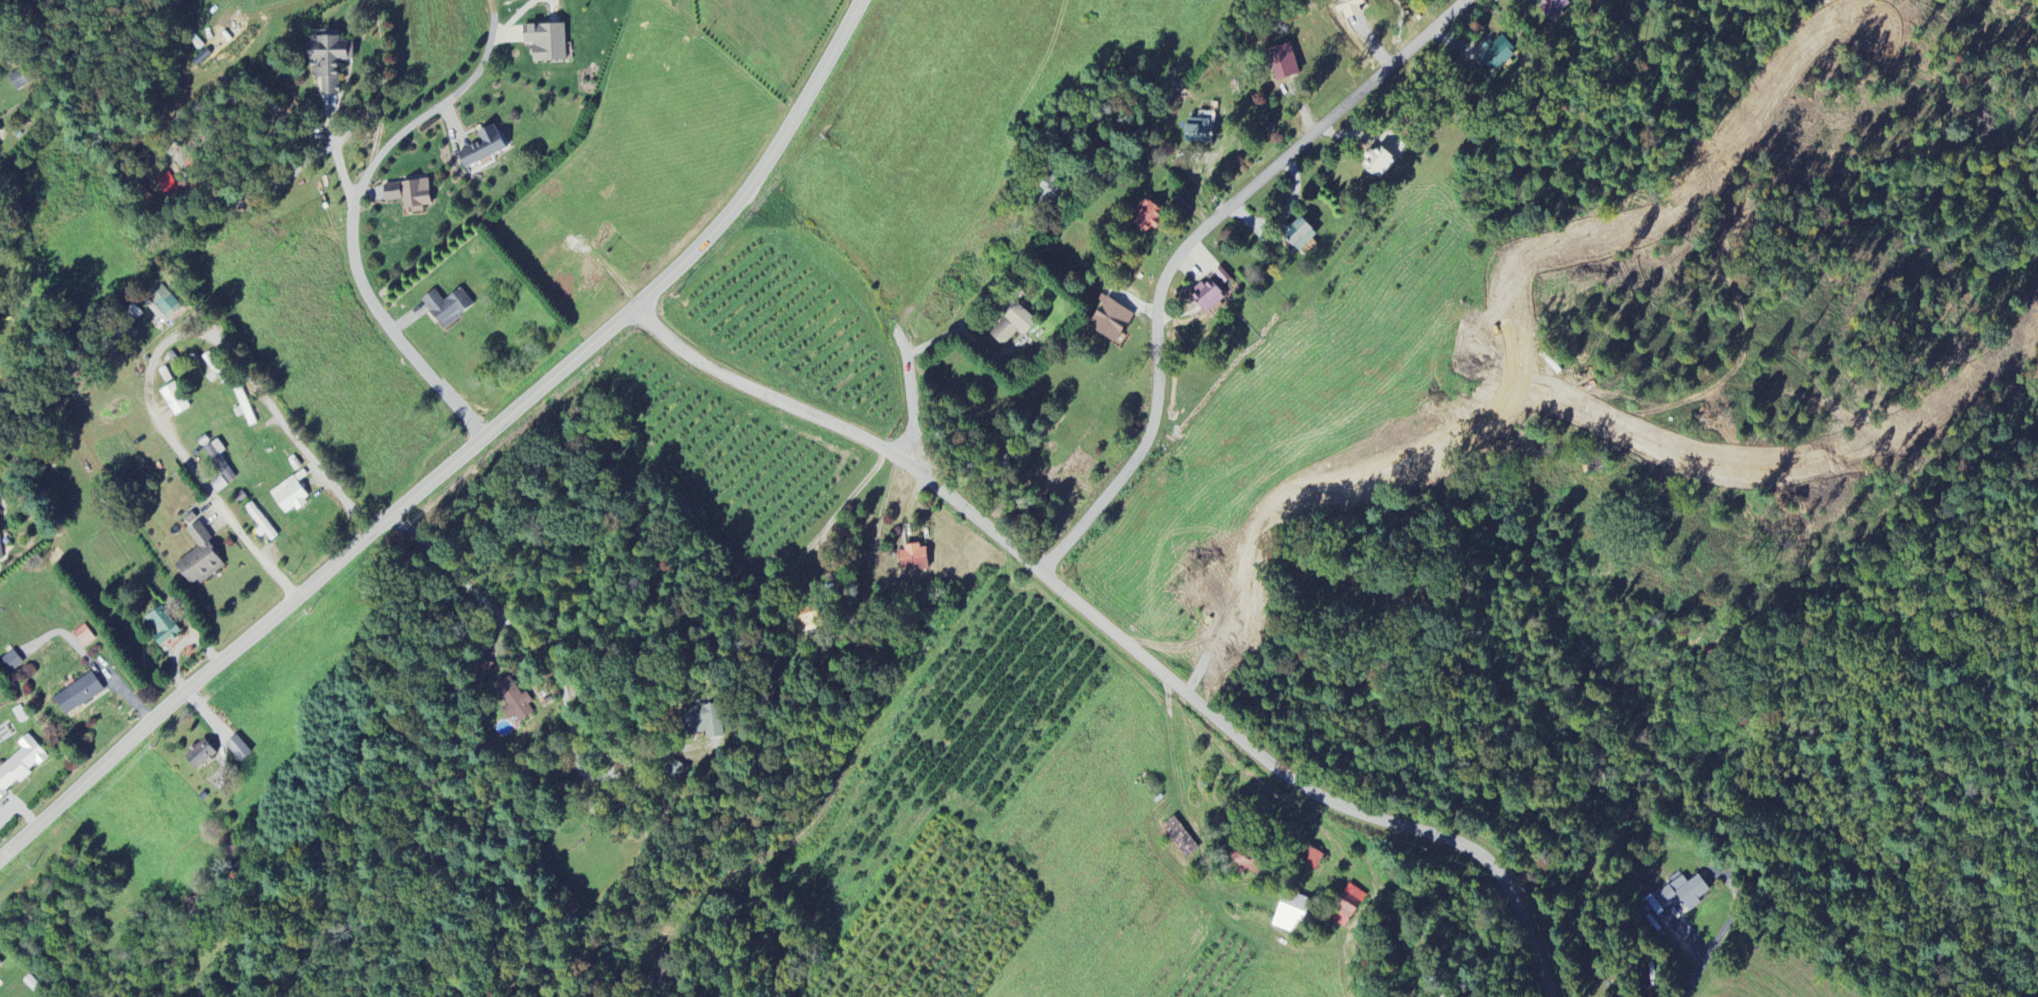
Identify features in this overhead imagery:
building: (1613, 0)
building: (1553, 7)
building: (1348, 8)
building: (545, 43)
building: (1494, 55)
building: (1282, 62)
building: (325, 63)
building: (1197, 128)
building: (482, 148)
building: (1378, 163)
building: (1050, 189)
building: (408, 196)
building: (1145, 215)
road: (350, 220)
building: (1297, 234)
road: (1183, 246)
building: (1206, 296)
building: (161, 303)
building: (447, 308)
building: (1109, 320)
building: (1012, 326)
road: (961, 331)
road: (157, 350)
building: (174, 400)
road: (781, 402)
building: (244, 407)
road: (907, 407)
road: (463, 458)
building: (219, 460)
building: (218, 485)
building: (289, 497)
building: (259, 522)
building: (0, 553)
building: (913, 558)
building: (198, 559)
building: (161, 627)
building: (83, 637)
road: (789, 638)
road: (544, 660)
building: (11, 662)
building: (484, 673)
building: (78, 695)
building: (514, 701)
building: (700, 722)
building: (237, 749)
road: (1246, 752)
building: (199, 756)
building: (20, 764)
building: (675, 771)
road: (1260, 828)
building: (1179, 838)
building: (1312, 859)
building: (1246, 865)
building: (1680, 895)
building: (1347, 906)
building: (1291, 913)
road: (1346, 924)
road: (1699, 964)
building: (0, 965)

